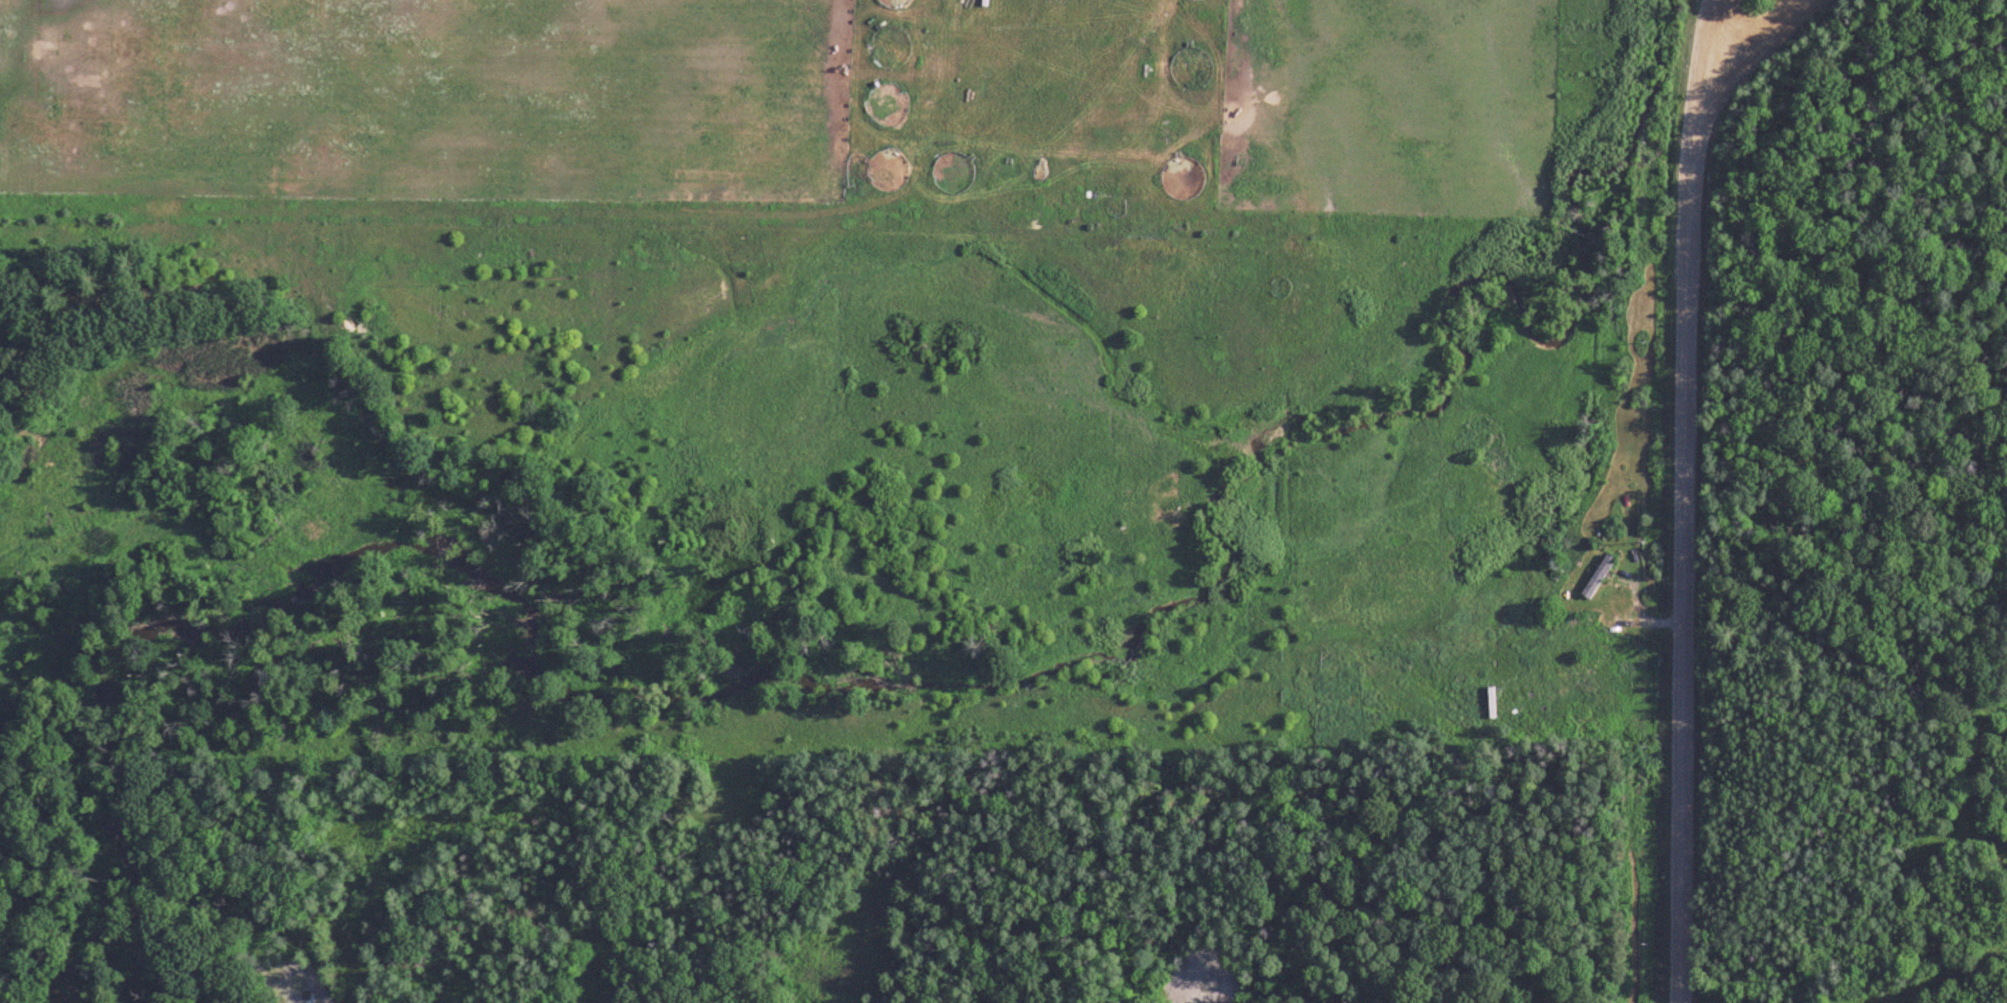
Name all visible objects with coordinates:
road: (1756, 41)
road: (1707, 42)
road: (1683, 542)
building: (1598, 577)
building: (1492, 702)

